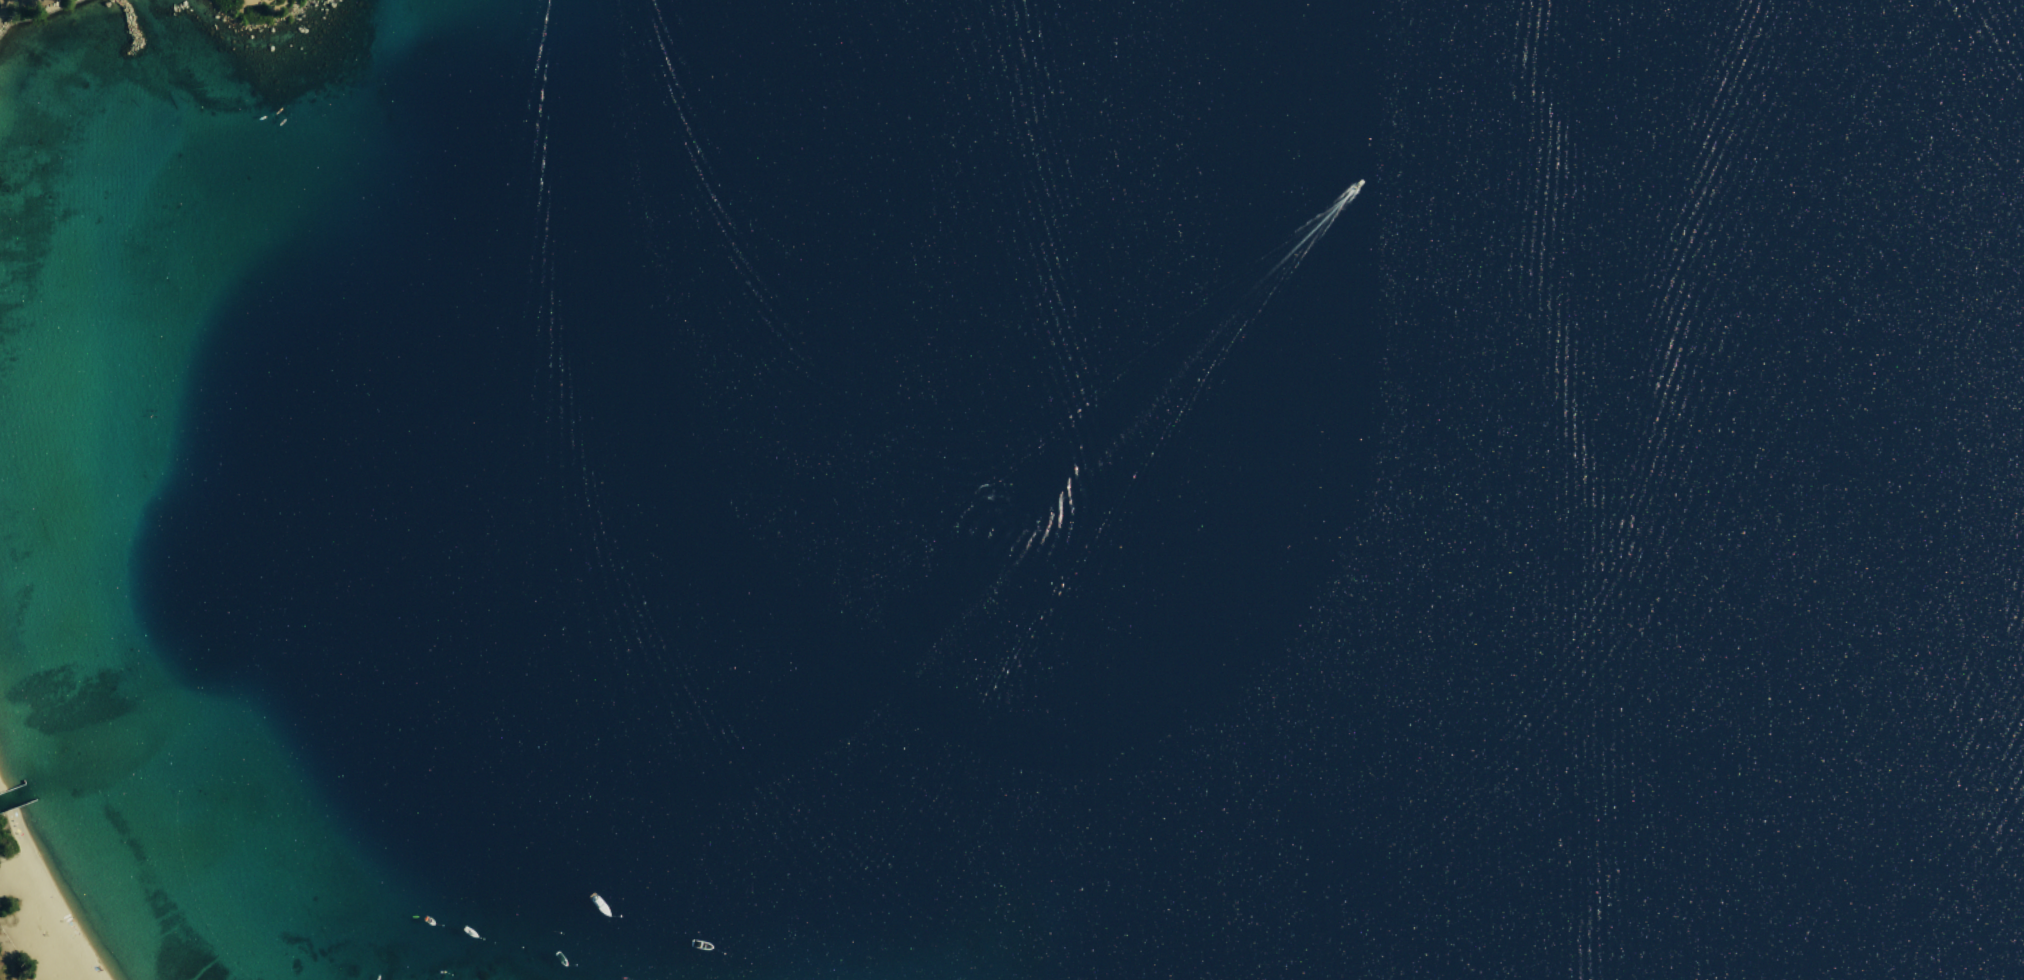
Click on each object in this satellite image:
road: (8, 5)

